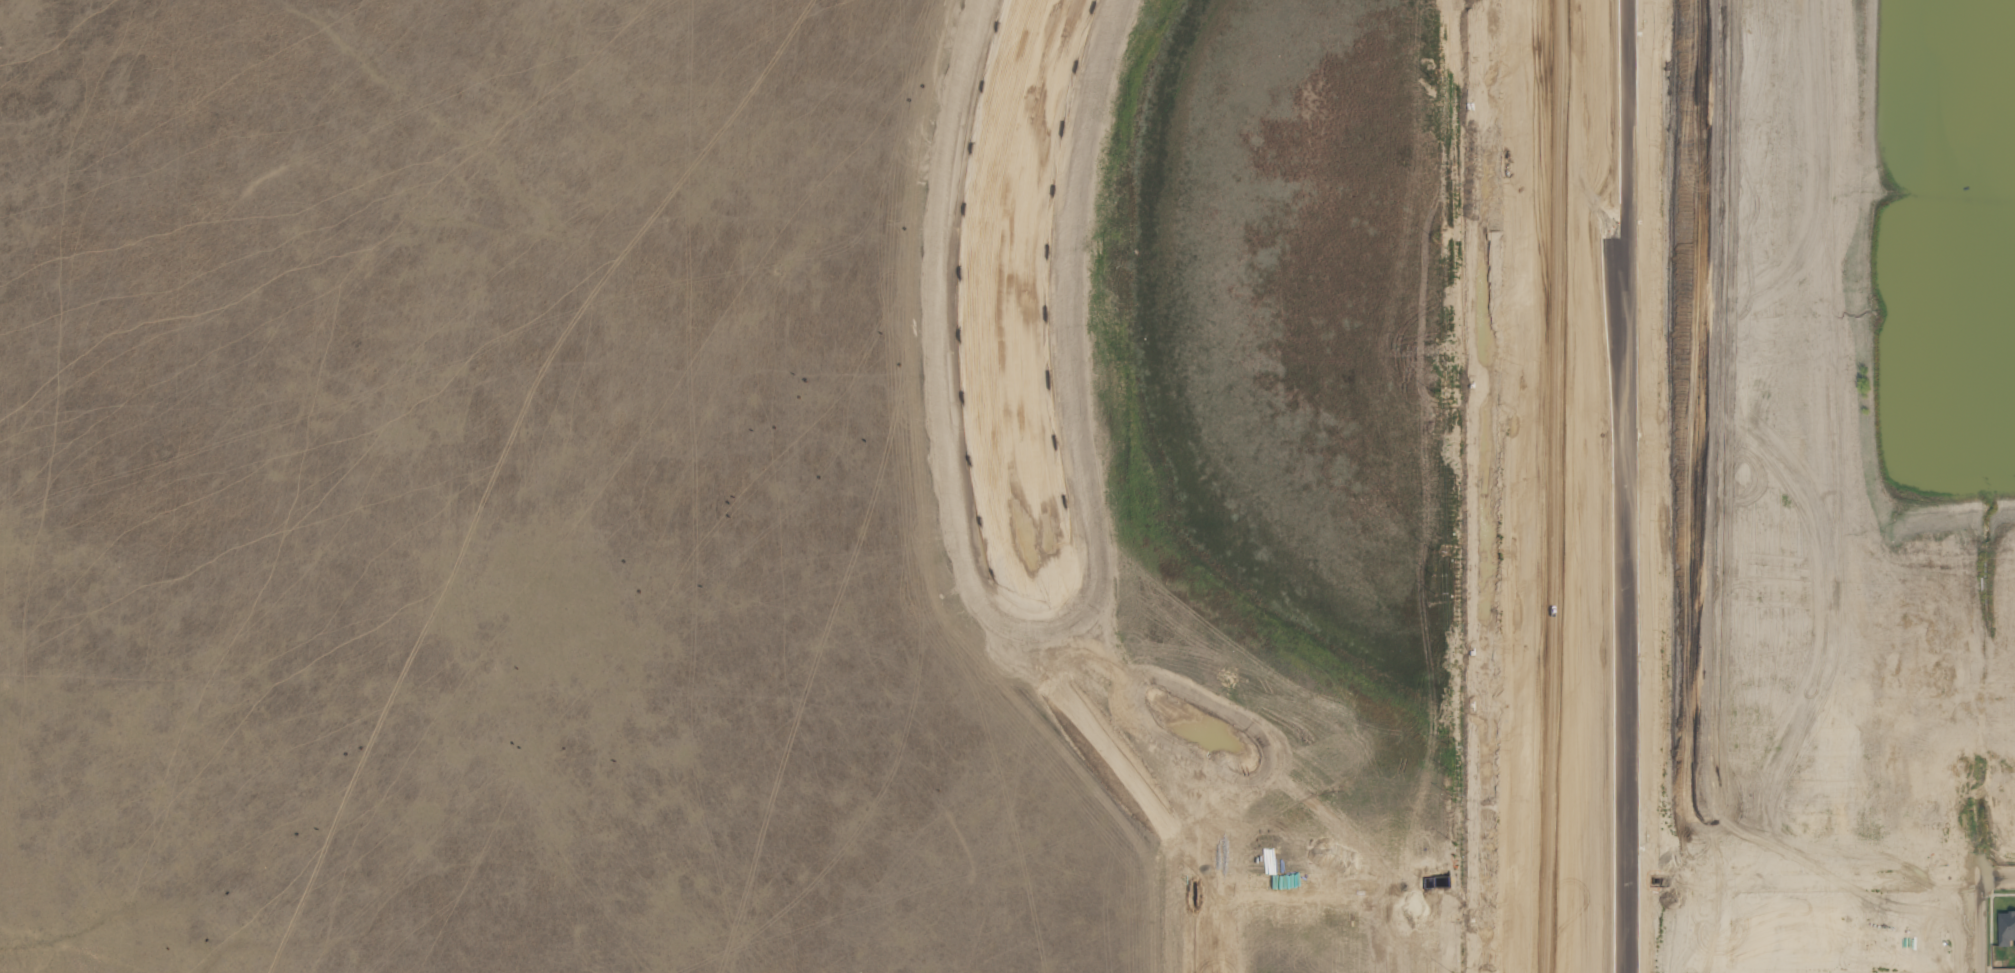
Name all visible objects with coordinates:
road: (1466, 486)
road: (1626, 486)
road: (1997, 876)
road: (1979, 925)
building: (2007, 928)
road: (1846, 972)

